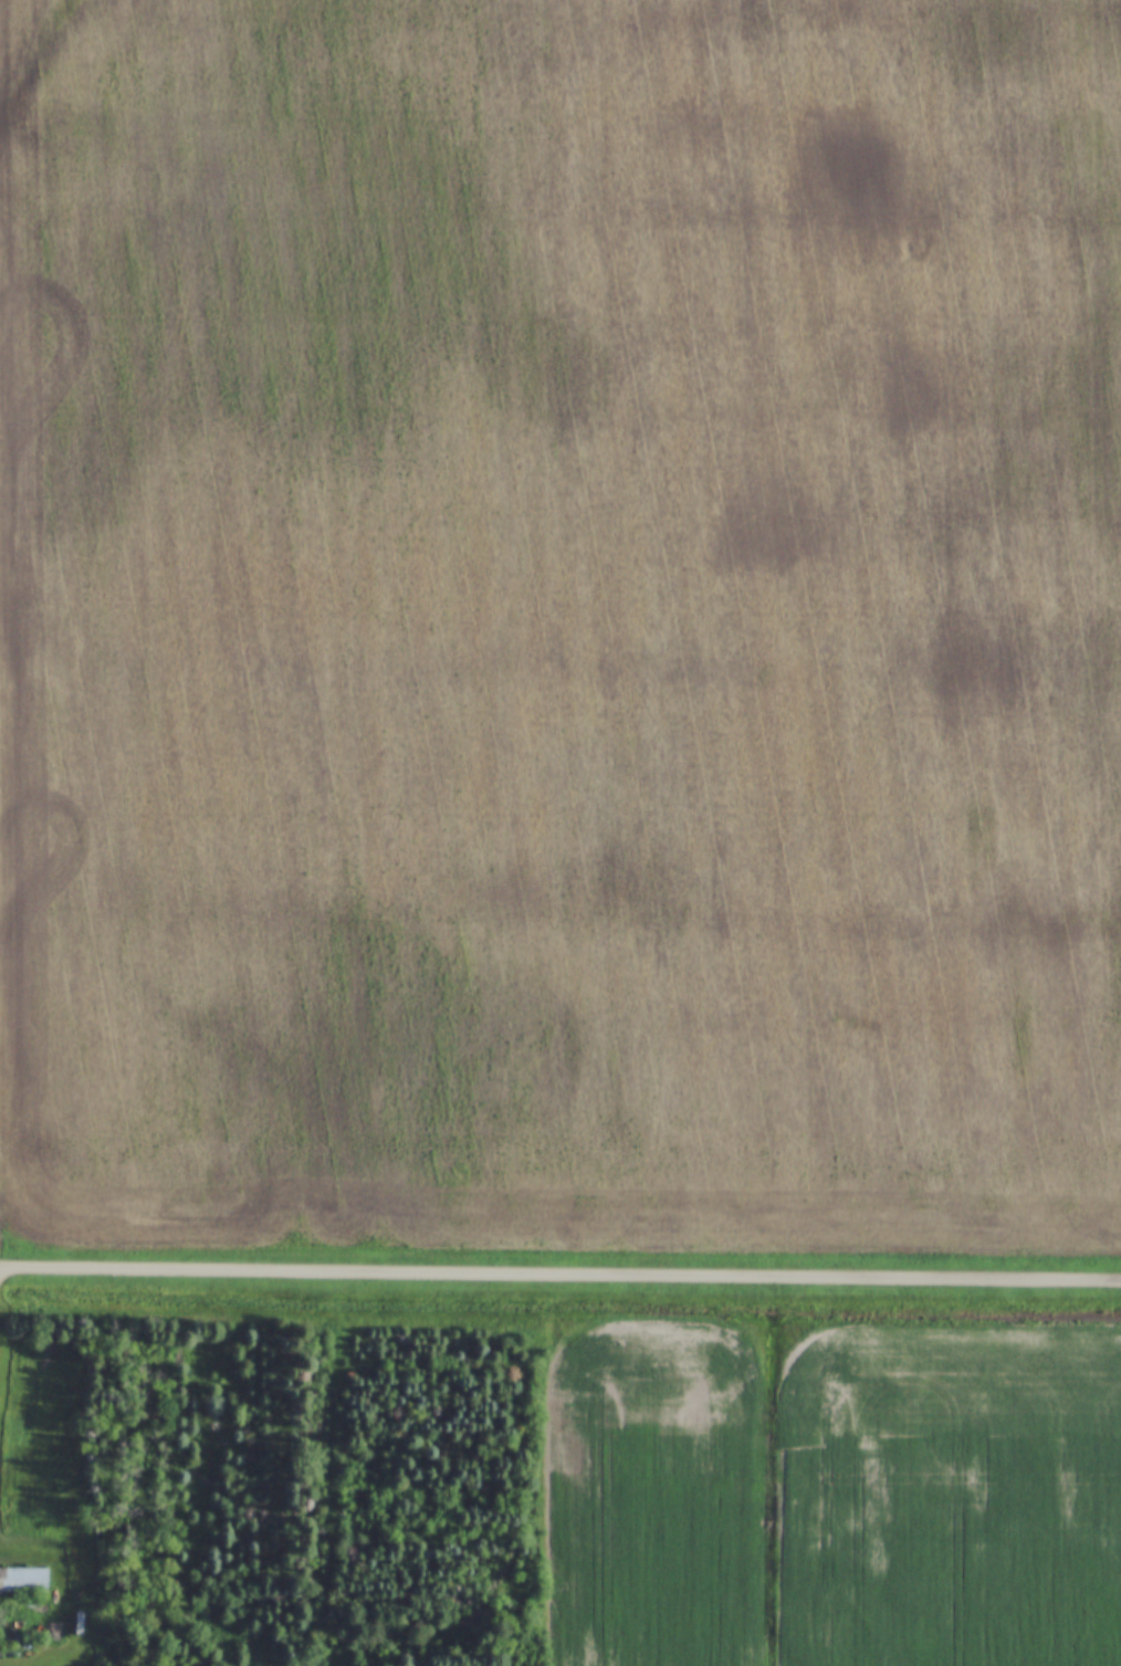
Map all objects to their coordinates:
road: (559, 1276)
building: (21, 1581)

